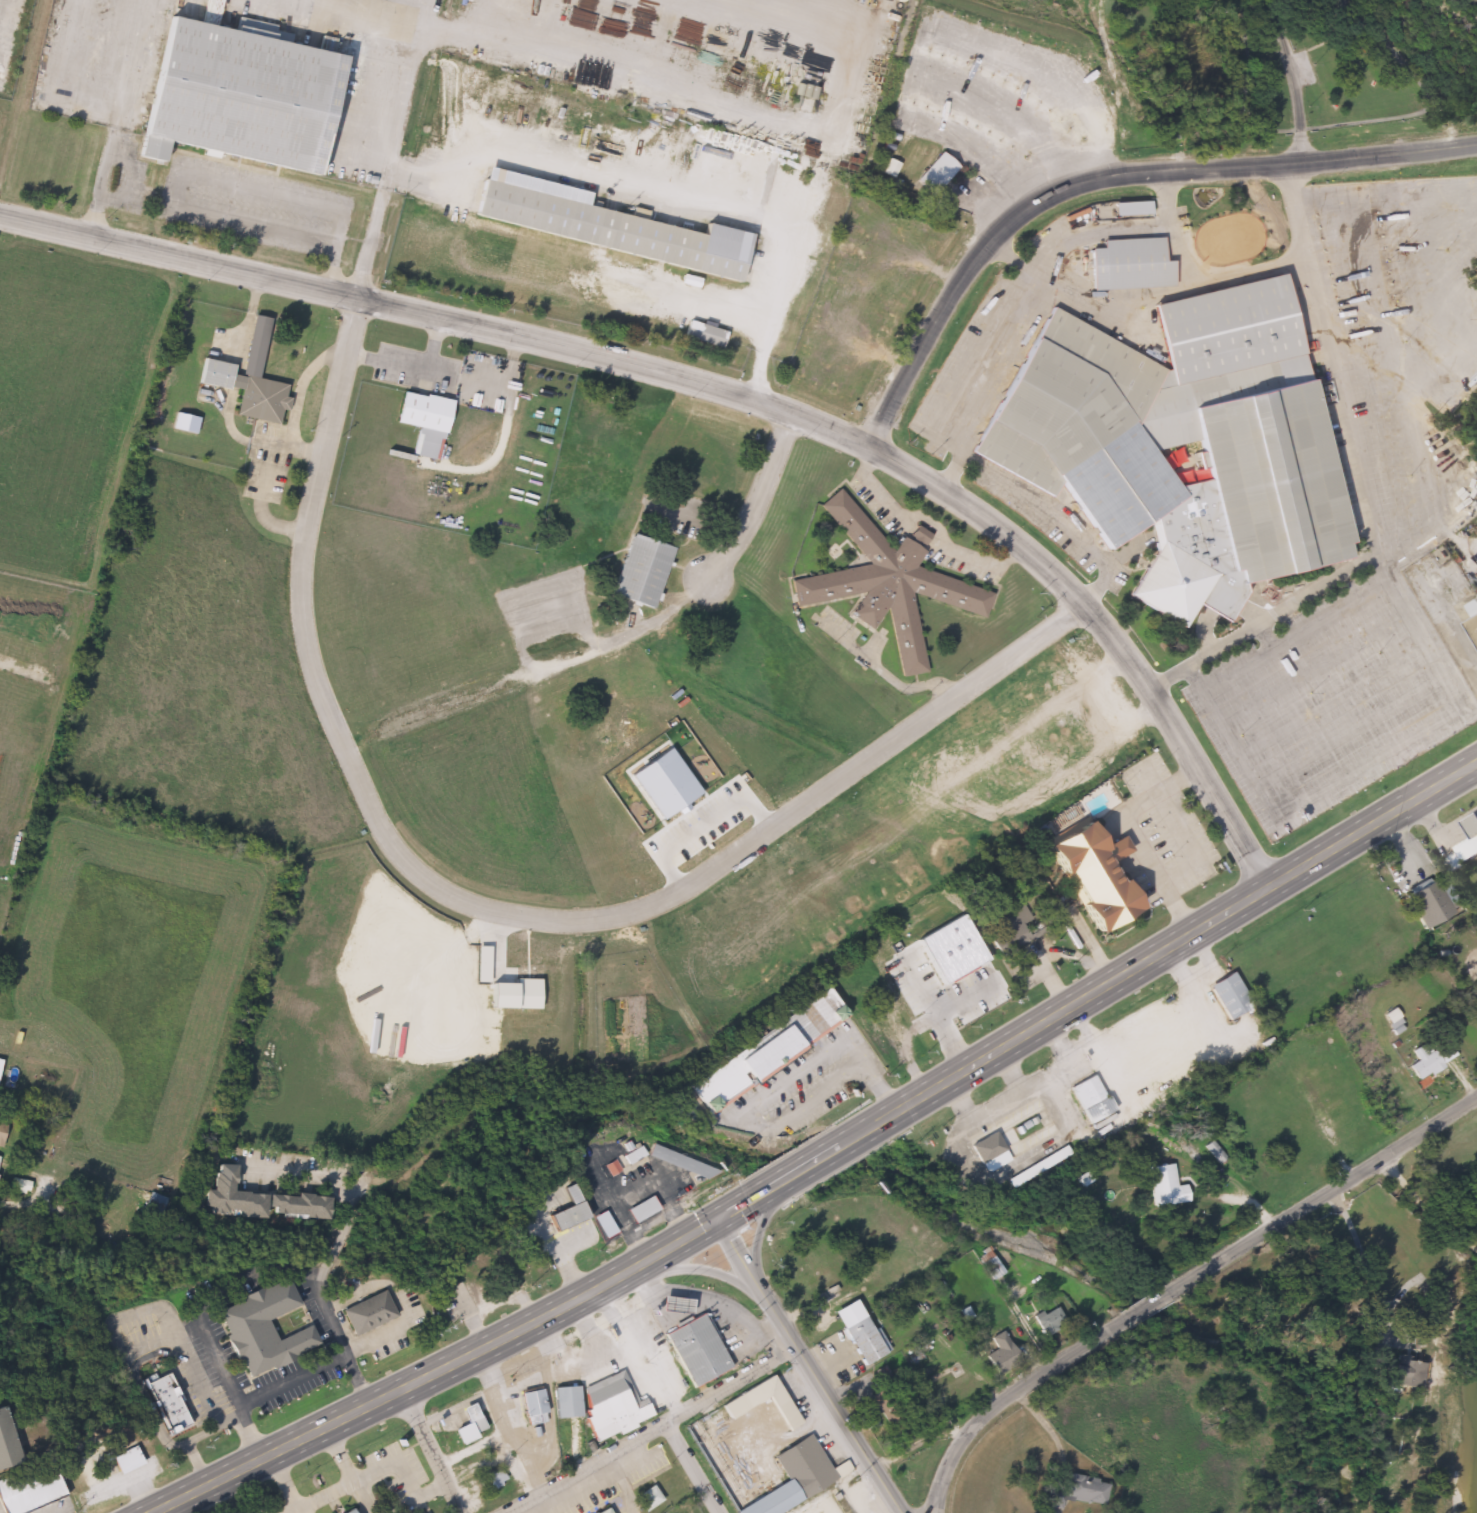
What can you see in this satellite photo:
park: (1280, 72)
road: (1294, 81)
building: (233, 99)
road: (117, 119)
road: (1345, 125)
road: (389, 150)
building: (934, 176)
road: (1101, 179)
road: (1383, 182)
road: (657, 191)
building: (1129, 210)
building: (597, 226)
road: (236, 227)
building: (1126, 266)
road: (1440, 362)
building: (246, 380)
road: (730, 399)
building: (420, 412)
building: (1175, 444)
road: (1385, 445)
road: (1428, 479)
road: (1369, 491)
building: (637, 572)
building: (885, 583)
building: (1433, 621)
road: (1294, 624)
building: (1471, 624)
road: (614, 639)
road: (1314, 658)
road: (1333, 693)
parking lot: (1327, 696)
road: (1350, 723)
road: (1369, 760)
road: (1132, 837)
building: (1456, 842)
building: (1086, 876)
building: (1429, 905)
road: (489, 913)
building: (882, 947)
building: (916, 991)
road: (1097, 992)
building: (1228, 995)
road: (950, 1039)
building: (765, 1052)
road: (829, 1057)
building: (1430, 1059)
building: (1089, 1099)
building: (1, 1129)
building: (1010, 1136)
road: (633, 1186)
building: (1163, 1186)
road: (1323, 1191)
road: (340, 1193)
building: (253, 1200)
building: (564, 1211)
road: (766, 1216)
road: (570, 1271)
road: (693, 1275)
road: (267, 1277)
road: (1150, 1303)
building: (365, 1313)
building: (1048, 1321)
building: (259, 1329)
building: (854, 1333)
building: (694, 1351)
building: (998, 1354)
road: (808, 1367)
road: (440, 1372)
road: (1010, 1397)
building: (166, 1404)
building: (599, 1406)
building: (532, 1407)
building: (758, 1409)
road: (214, 1428)
road: (656, 1432)
road: (425, 1454)
building: (3, 1455)
road: (339, 1455)
building: (118, 1462)
building: (801, 1468)
road: (373, 1469)
building: (840, 1469)
road: (690, 1470)
building: (489, 1480)
road: (284, 1482)
building: (27, 1488)
building: (1083, 1490)
building: (647, 1498)
building: (604, 1511)
building: (342, 1512)

